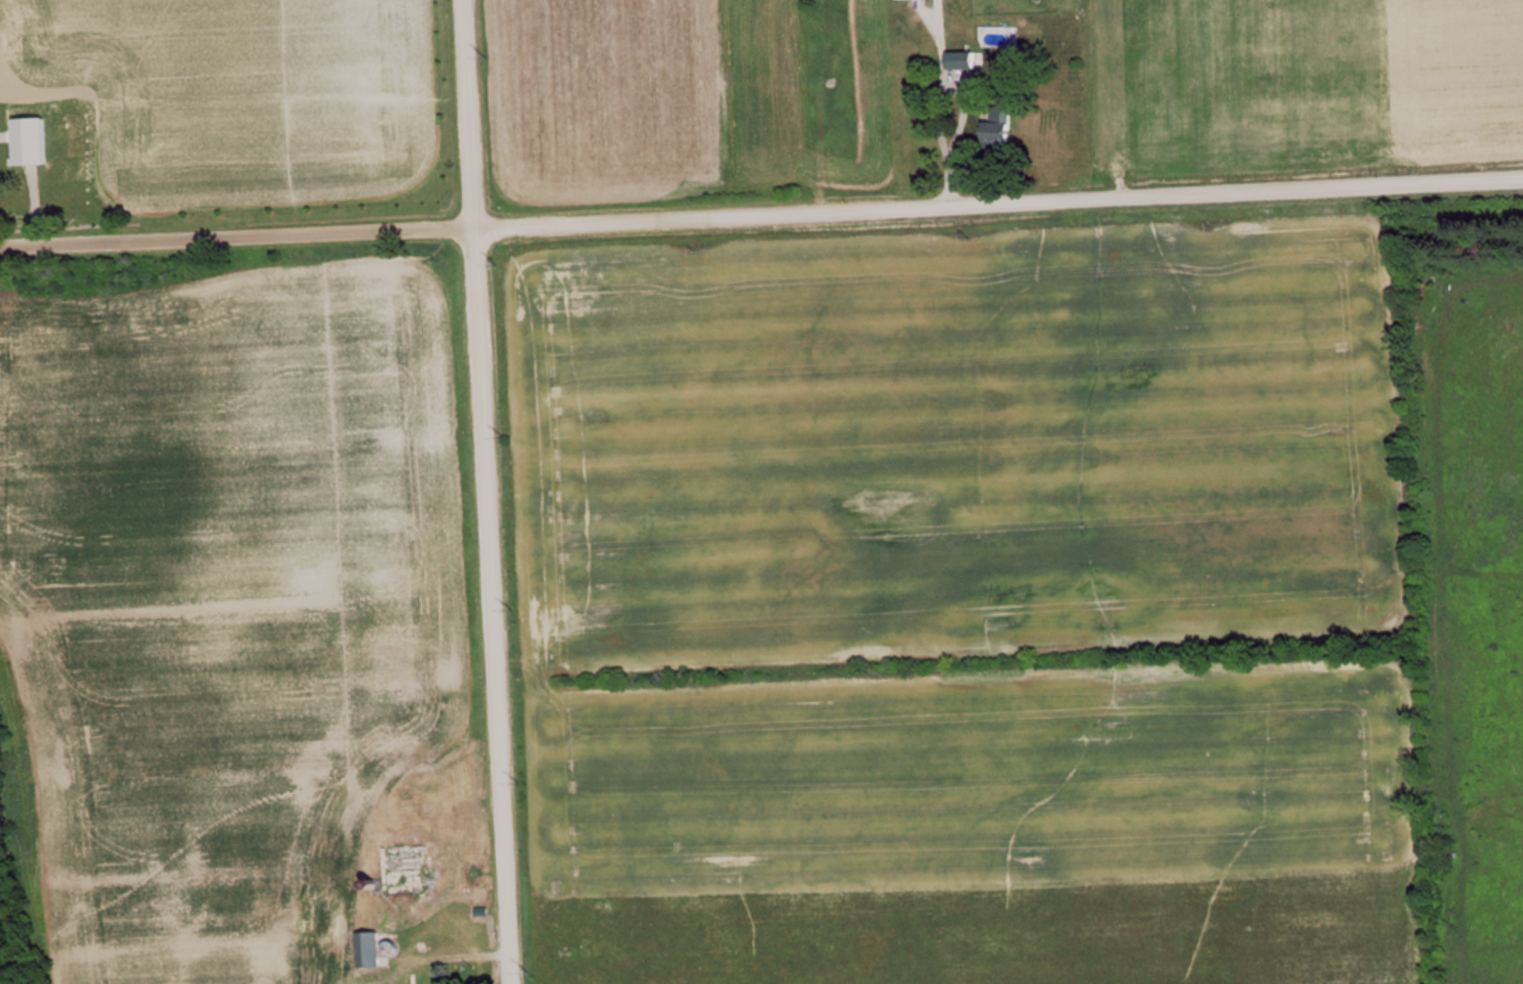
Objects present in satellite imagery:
building: (967, 60)
building: (1007, 128)
building: (44, 134)
road: (761, 215)
road: (484, 491)
building: (415, 872)
building: (375, 950)

